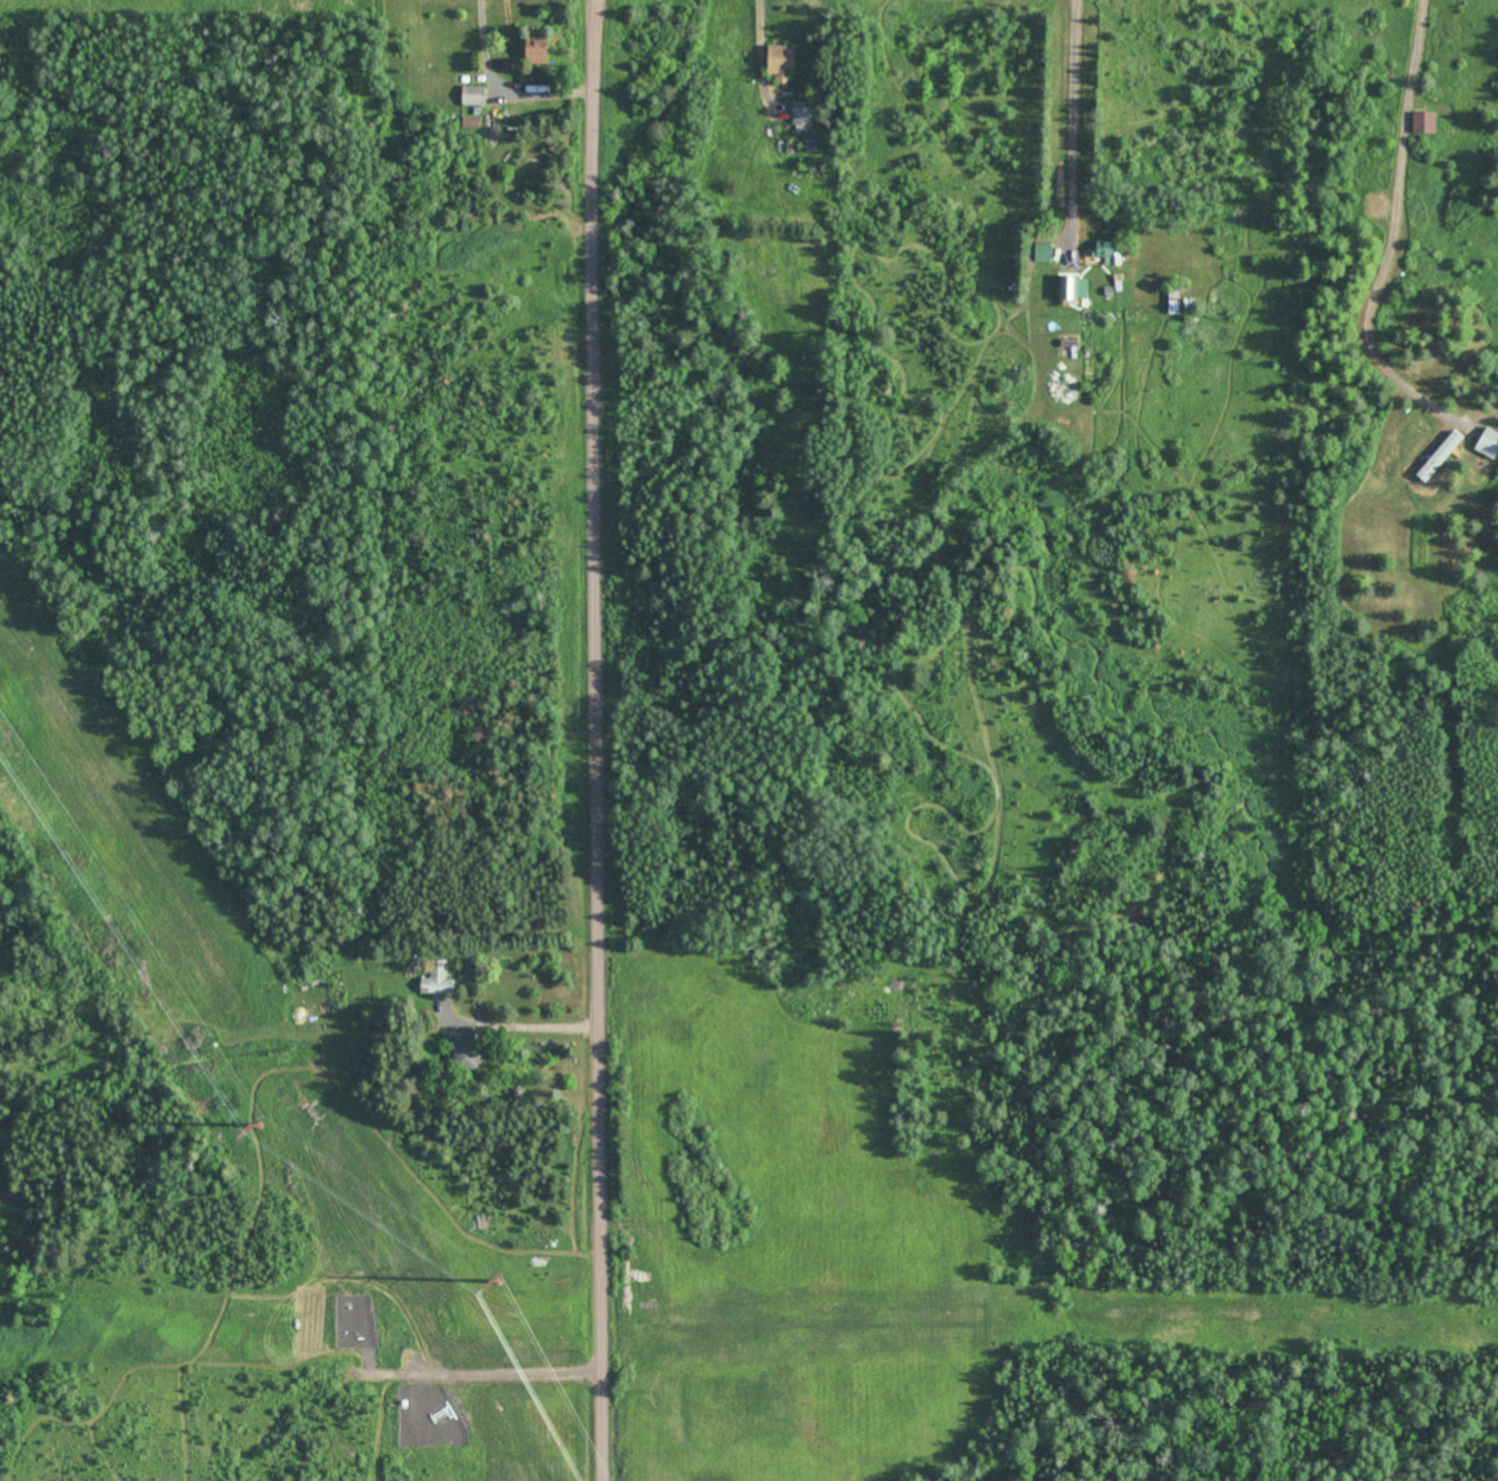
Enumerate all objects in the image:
building: (536, 49)
building: (782, 63)
building: (473, 95)
building: (802, 113)
building: (470, 122)
building: (1424, 123)
building: (1106, 251)
building: (1042, 252)
building: (1072, 289)
building: (1190, 304)
building: (1488, 444)
building: (1439, 456)
road: (594, 740)
building: (437, 980)
building: (466, 1054)
power tower: (259, 1124)
crop: (776, 1237)
power tower: (498, 1280)
building: (355, 1337)

